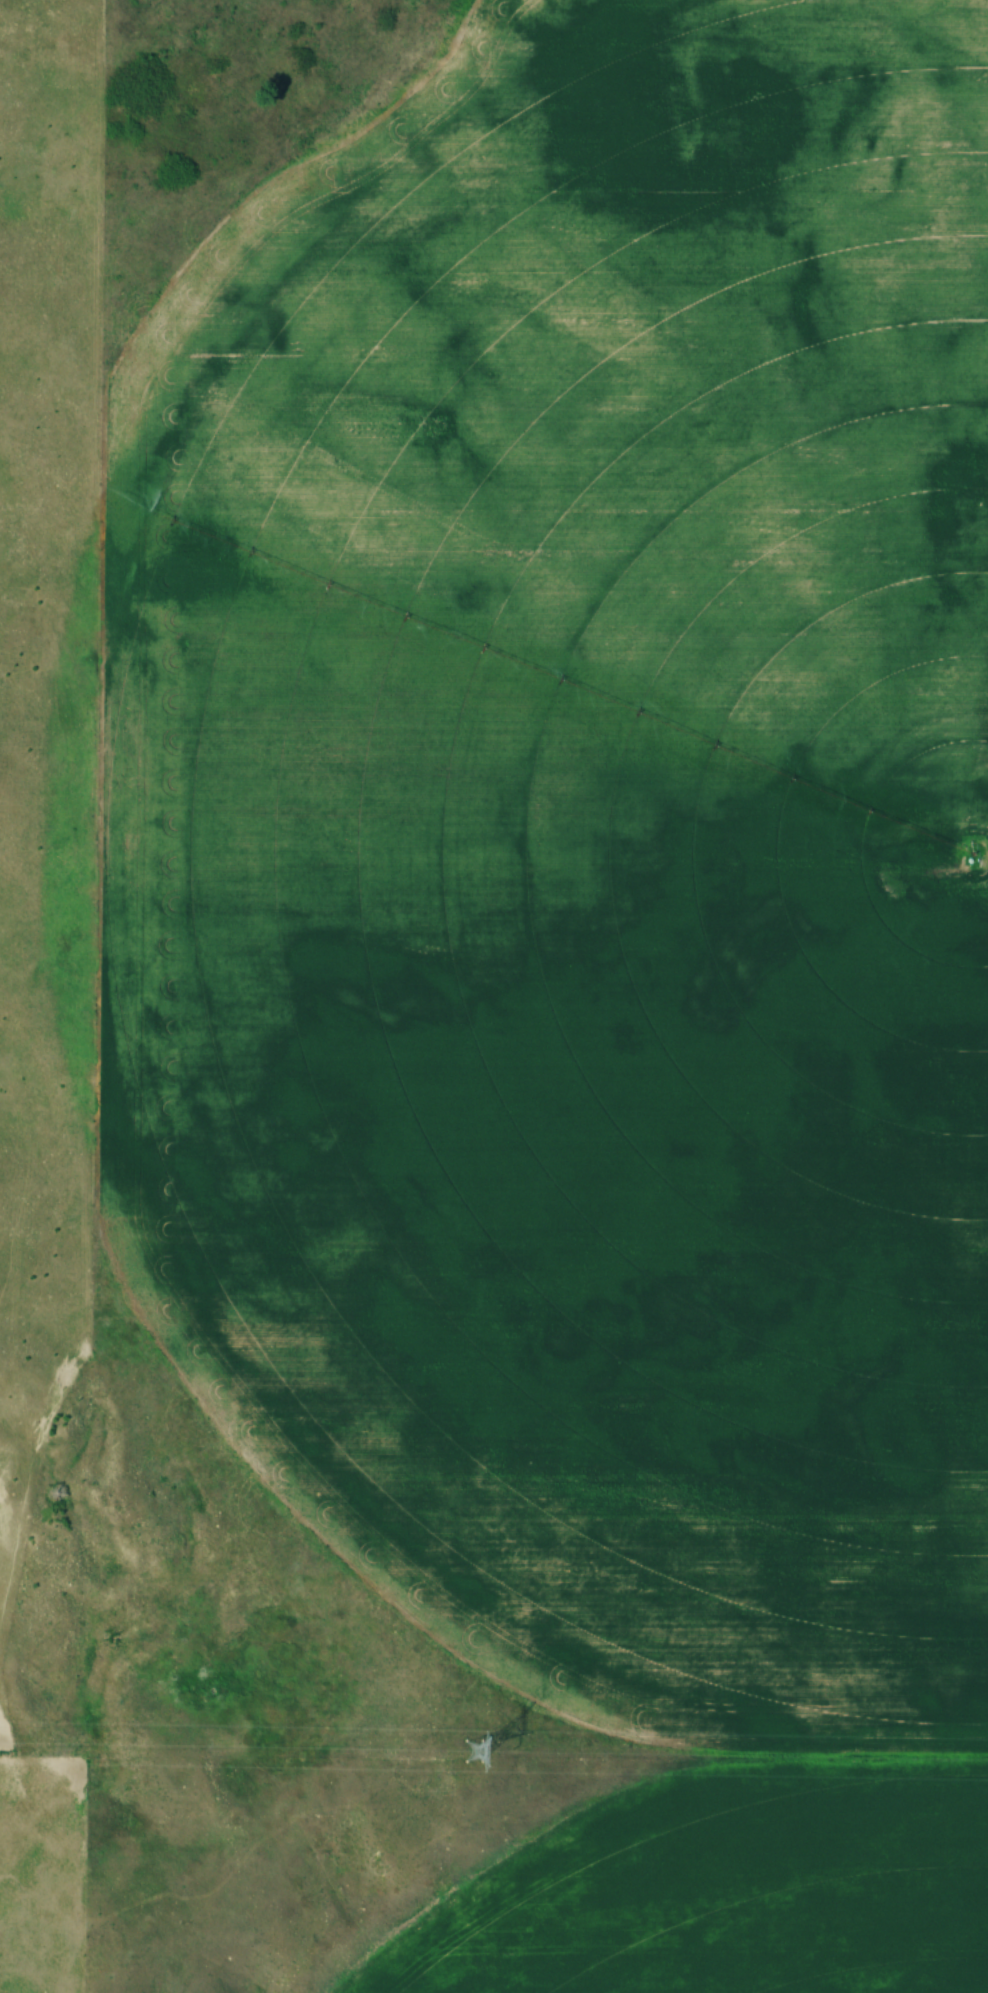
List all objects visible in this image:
power tower: (472, 1751)

